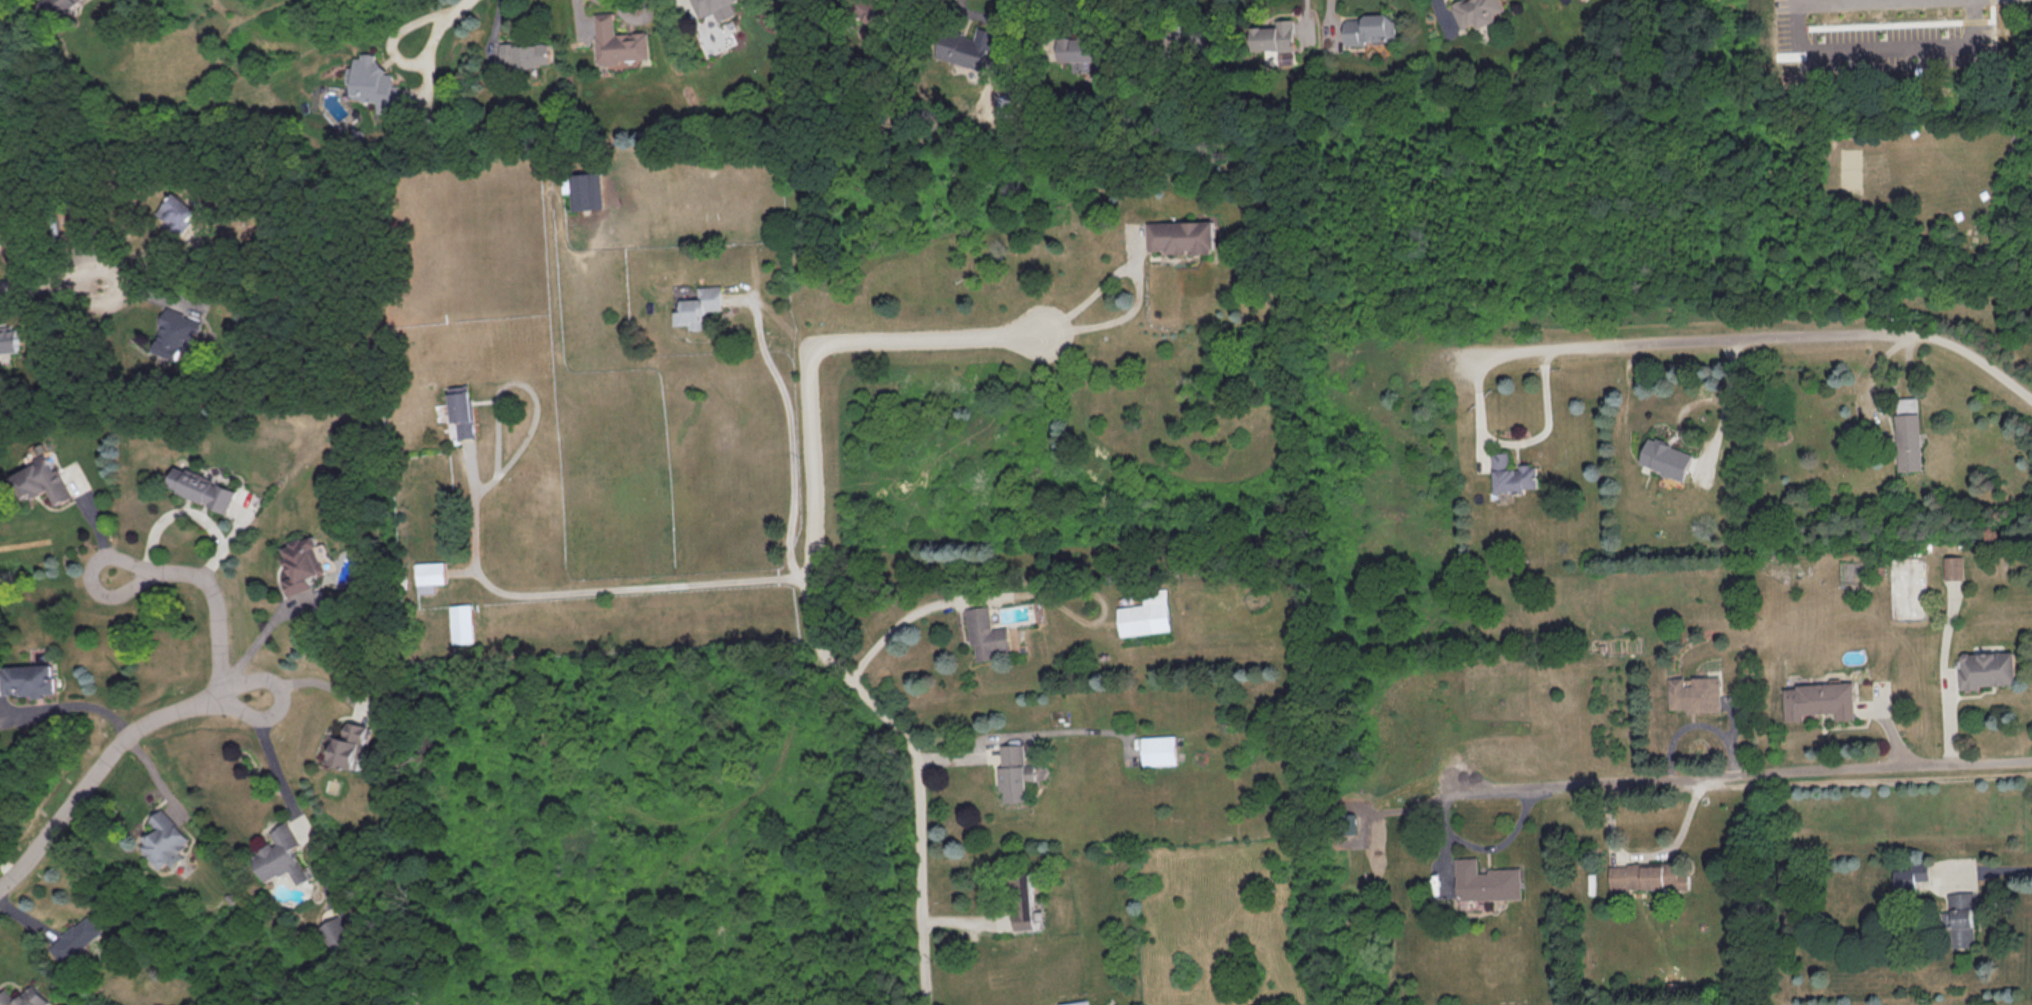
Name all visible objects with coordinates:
road: (1822, 1)
building: (58, 6)
building: (715, 8)
building: (1478, 11)
road: (436, 22)
building: (1371, 28)
road: (1048, 29)
building: (1275, 36)
building: (620, 41)
building: (967, 46)
building: (527, 53)
building: (1082, 54)
building: (372, 82)
building: (588, 190)
building: (175, 212)
building: (1183, 235)
road: (1144, 280)
road: (65, 285)
building: (700, 306)
building: (176, 334)
road: (1759, 338)
building: (9, 339)
road: (1723, 408)
building: (461, 409)
building: (1909, 440)
road: (791, 443)
road: (1514, 443)
building: (1666, 457)
building: (1512, 474)
building: (42, 480)
building: (199, 488)
road: (98, 520)
building: (300, 563)
building: (1955, 566)
building: (429, 575)
road: (810, 576)
road: (481, 578)
building: (1147, 614)
road: (903, 619)
building: (461, 622)
building: (1987, 668)
building: (28, 679)
road: (293, 681)
building: (1696, 693)
building: (1820, 699)
road: (70, 704)
road: (172, 712)
building: (349, 745)
road: (265, 747)
building: (1160, 749)
building: (1015, 772)
road: (1739, 774)
building: (164, 840)
road: (1487, 847)
building: (281, 855)
road: (1999, 869)
building: (1910, 874)
building: (1649, 875)
building: (1487, 880)
building: (1023, 899)
building: (1963, 918)
building: (334, 933)
building: (70, 938)
building: (23, 997)
building: (1076, 1002)

